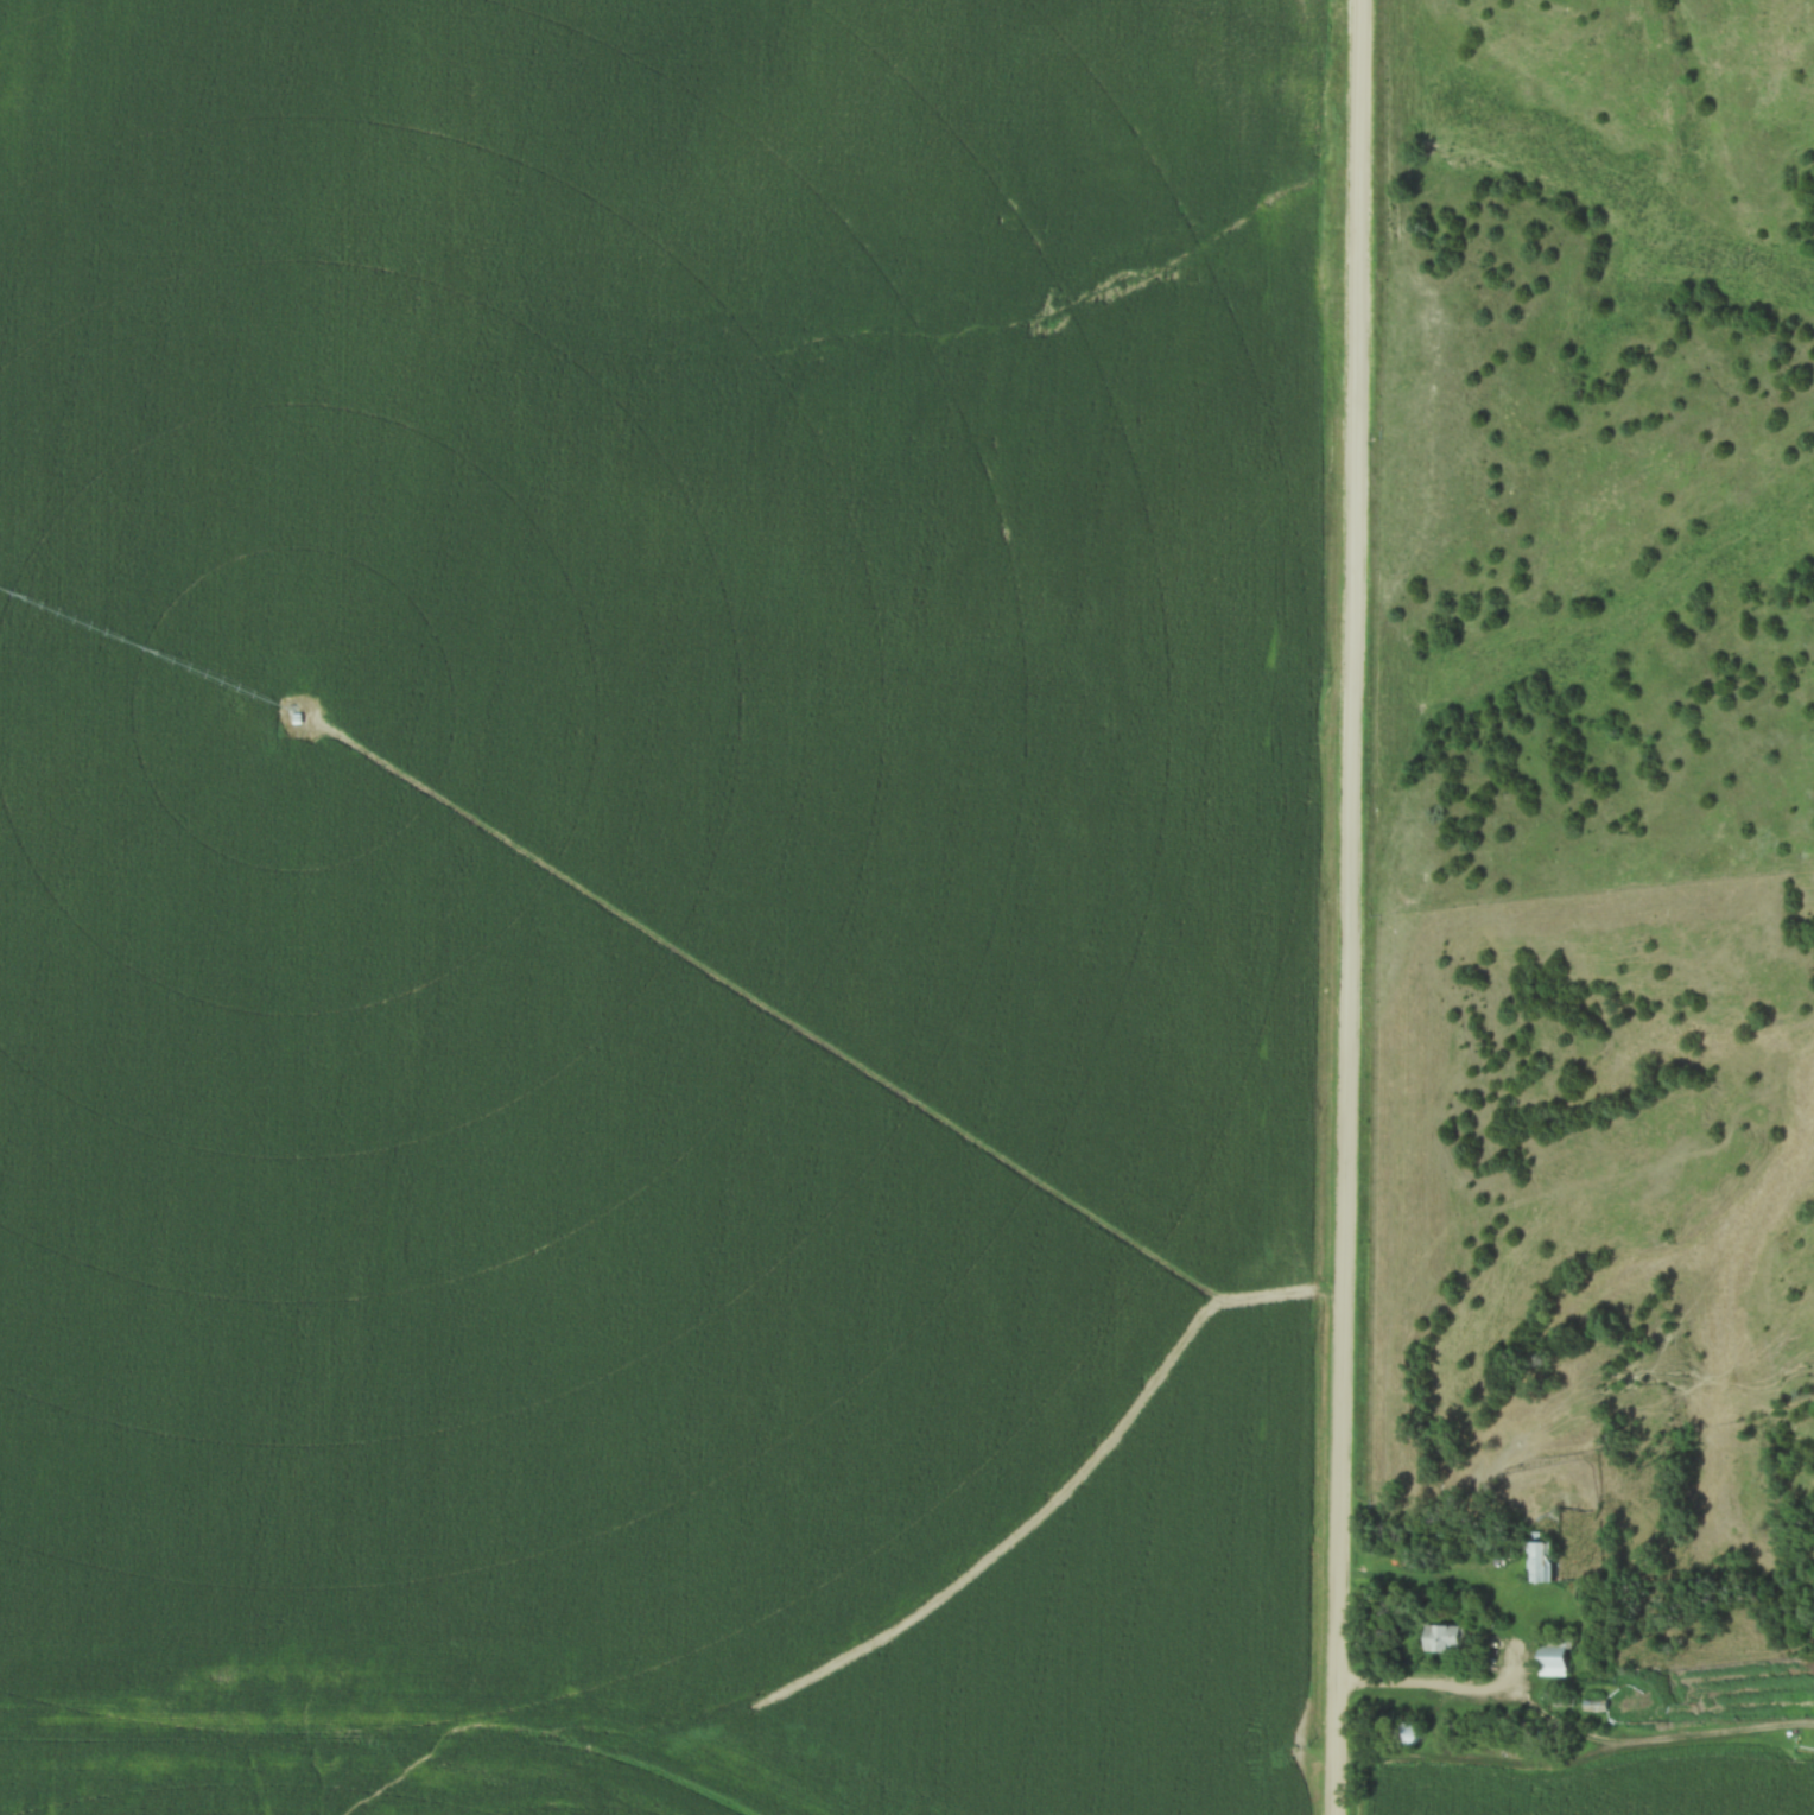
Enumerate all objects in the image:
road: (1346, 907)
building: (1537, 1561)
building: (1442, 1638)
building: (1550, 1655)
building: (1407, 1733)

